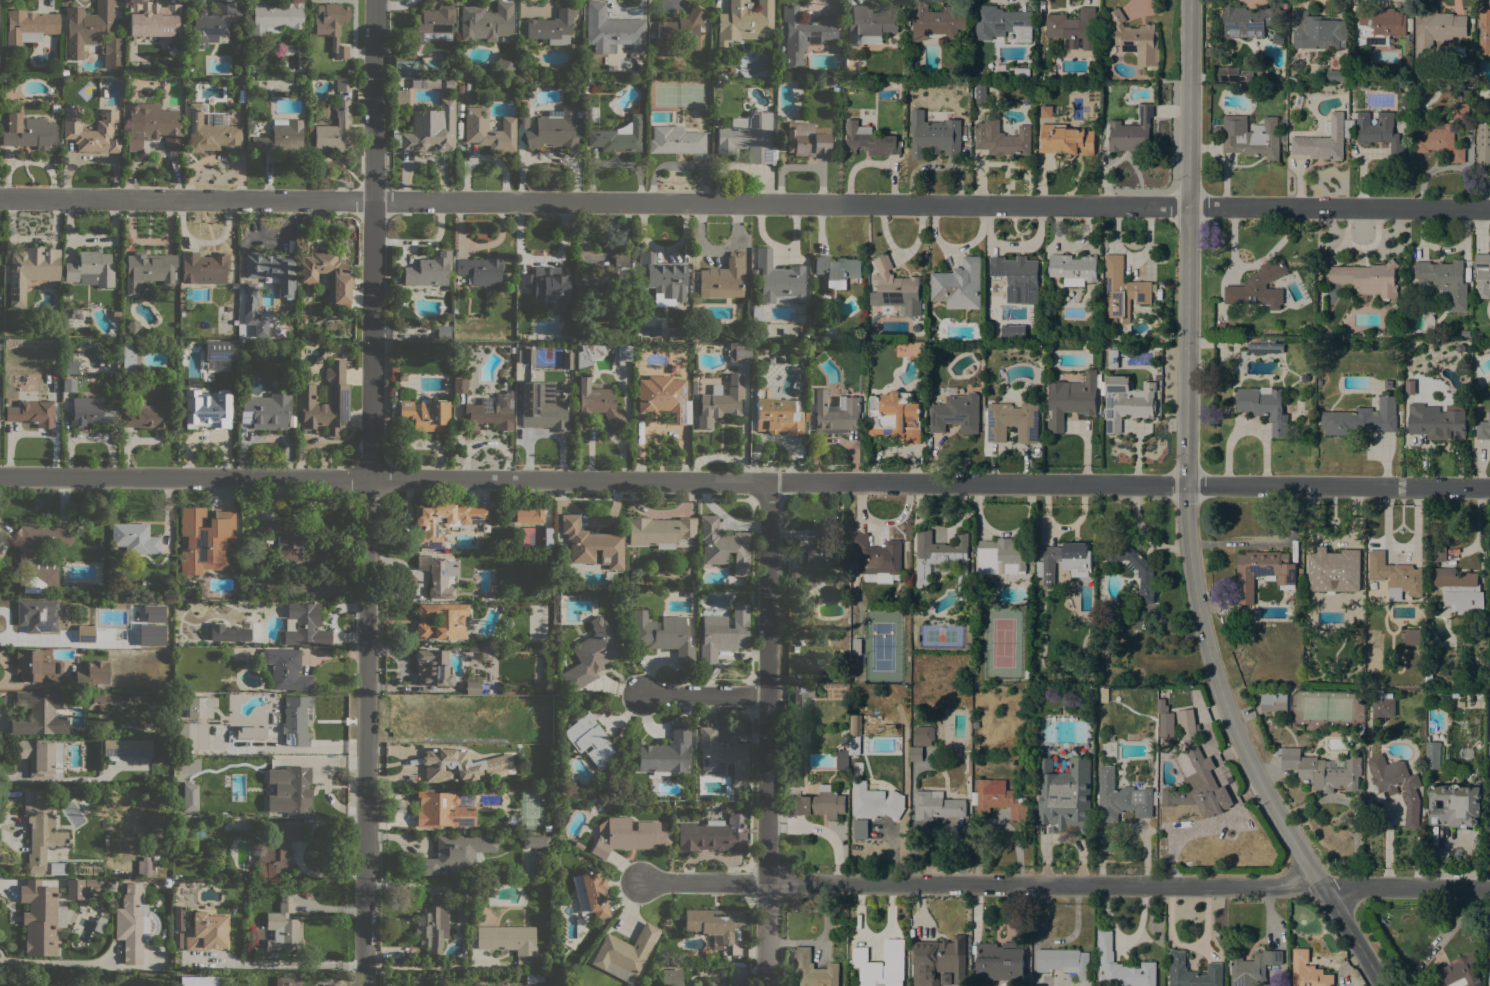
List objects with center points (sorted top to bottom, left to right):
building: (276, 17)
building: (153, 20)
building: (214, 21)
building: (486, 21)
building: (745, 21)
building: (1248, 21)
building: (937, 22)
building: (1002, 23)
building: (871, 24)
building: (188, 25)
building: (331, 25)
building: (1379, 25)
building: (29, 26)
building: (87, 26)
building: (552, 27)
building: (1074, 27)
building: (427, 28)
building: (612, 30)
building: (1434, 30)
building: (1318, 31)
building: (803, 33)
building: (679, 34)
building: (1485, 35)
building: (1135, 39)
building: (1278, 39)
building: (111, 52)
building: (137, 64)
building: (503, 66)
building: (1297, 66)
building: (240, 72)
building: (651, 74)
building: (1021, 74)
building: (1337, 74)
building: (722, 75)
building: (1234, 75)
building: (798, 76)
building: (1051, 76)
building: (1262, 79)
building: (1293, 79)
building: (242, 80)
building: (343, 84)
building: (460, 89)
building: (132, 93)
building: (981, 94)
building: (401, 96)
building: (55, 108)
building: (1046, 111)
building: (1461, 111)
building: (522, 120)
building: (1346, 123)
building: (153, 126)
building: (1351, 128)
building: (553, 129)
building: (1216, 129)
building: (91, 130)
building: (333, 130)
building: (429, 130)
building: (488, 130)
building: (27, 131)
building: (210, 132)
building: (1132, 132)
building: (1381, 133)
building: (280, 136)
building: (619, 136)
building: (747, 136)
building: (934, 136)
building: (1251, 137)
building: (1002, 139)
building: (675, 140)
building: (807, 140)
building: (870, 140)
building: (1066, 140)
building: (1323, 141)
building: (1438, 141)
building: (1483, 144)
road: (744, 203)
building: (203, 267)
building: (91, 269)
building: (481, 269)
building: (1073, 269)
building: (31, 270)
building: (149, 270)
building: (272, 270)
building: (428, 270)
building: (837, 270)
building: (1482, 274)
building: (664, 277)
building: (724, 278)
building: (1018, 278)
building: (1366, 278)
building: (342, 279)
building: (778, 279)
building: (1445, 280)
building: (606, 283)
building: (546, 285)
building: (958, 285)
building: (1258, 288)
building: (895, 289)
building: (1123, 290)
building: (250, 300)
building: (756, 314)
building: (131, 326)
building: (1220, 326)
building: (828, 327)
building: (1012, 330)
building: (674, 335)
building: (1069, 342)
building: (1226, 342)
building: (193, 346)
building: (1264, 346)
building: (1459, 348)
building: (978, 349)
building: (218, 350)
building: (624, 352)
building: (588, 353)
building: (738, 353)
building: (526, 354)
building: (129, 355)
building: (114, 358)
building: (821, 358)
building: (1112, 359)
building: (567, 360)
building: (71, 364)
building: (1304, 377)
building: (1388, 384)
building: (68, 385)
building: (459, 385)
building: (693, 387)
building: (951, 391)
building: (337, 393)
building: (661, 397)
building: (1070, 399)
building: (720, 401)
building: (1126, 402)
building: (597, 403)
building: (1264, 407)
building: (206, 409)
building: (266, 410)
building: (541, 410)
building: (89, 412)
building: (32, 413)
building: (489, 413)
building: (835, 413)
building: (777, 414)
building: (955, 414)
building: (425, 415)
building: (147, 416)
building: (805, 416)
building: (895, 417)
building: (1361, 419)
building: (1012, 421)
building: (1436, 422)
building: (1483, 428)
road: (744, 482)
road: (369, 492)
building: (531, 511)
road: (1186, 515)
building: (444, 520)
building: (659, 531)
building: (548, 537)
building: (134, 538)
building: (284, 539)
building: (205, 540)
building: (592, 544)
building: (724, 545)
building: (28, 553)
building: (823, 553)
building: (1438, 553)
building: (940, 557)
building: (1001, 557)
building: (878, 559)
building: (1064, 561)
building: (1300, 570)
building: (1334, 570)
building: (1263, 572)
building: (1144, 574)
building: (438, 575)
building: (1300, 576)
building: (1395, 576)
building: (1300, 582)
building: (1459, 590)
building: (201, 592)
building: (914, 612)
building: (37, 614)
building: (441, 620)
building: (303, 625)
building: (94, 634)
building: (231, 634)
building: (723, 634)
building: (662, 635)
building: (1413, 637)
building: (856, 646)
building: (591, 654)
building: (32, 665)
building: (432, 667)
road: (5, 670)
building: (287, 670)
building: (829, 672)
building: (91, 675)
building: (1429, 675)
road: (38, 684)
building: (472, 685)
building: (1064, 691)
road: (707, 695)
building: (1103, 695)
building: (105, 697)
building: (800, 701)
building: (1273, 701)
building: (1161, 705)
building: (199, 706)
building: (1383, 706)
building: (38, 714)
building: (297, 719)
building: (855, 725)
road: (767, 734)
building: (187, 735)
building: (924, 735)
building: (247, 737)
building: (590, 737)
building: (796, 739)
building: (233, 743)
building: (854, 746)
building: (126, 748)
building: (666, 754)
building: (916, 754)
building: (1432, 755)
building: (722, 756)
building: (40, 757)
building: (1196, 758)
building: (842, 760)
building: (459, 765)
building: (249, 766)
building: (1322, 770)
building: (1397, 785)
building: (296, 788)
building: (1064, 795)
building: (188, 797)
building: (1120, 798)
building: (999, 799)
building: (874, 801)
building: (819, 803)
building: (936, 805)
building: (1455, 805)
building: (443, 809)
building: (511, 820)
building: (547, 828)
building: (42, 829)
building: (713, 835)
building: (627, 836)
building: (535, 841)
building: (578, 845)
building: (278, 848)
building: (455, 853)
building: (155, 858)
building: (143, 866)
building: (57, 868)
building: (242, 873)
building: (90, 882)
building: (110, 885)
road: (1064, 885)
building: (75, 889)
building: (590, 894)
building: (463, 903)
building: (41, 917)
building: (714, 923)
building: (134, 924)
building: (432, 924)
road: (1454, 925)
building: (283, 927)
building: (177, 928)
building: (206, 931)
building: (507, 938)
building: (624, 953)
building: (273, 954)
building: (938, 961)
building: (1000, 961)
building: (1063, 962)
road: (291, 963)
building: (881, 965)
building: (1120, 967)
building: (1253, 968)
building: (1489, 968)
building: (813, 969)
building: (1191, 972)
building: (1456, 973)
building: (1309, 975)
building: (175, 976)
building: (671, 977)
building: (533, 978)
building: (636, 979)
building: (945, 979)
building: (77, 981)
building: (198, 981)
building: (287, 981)
building: (734, 984)

